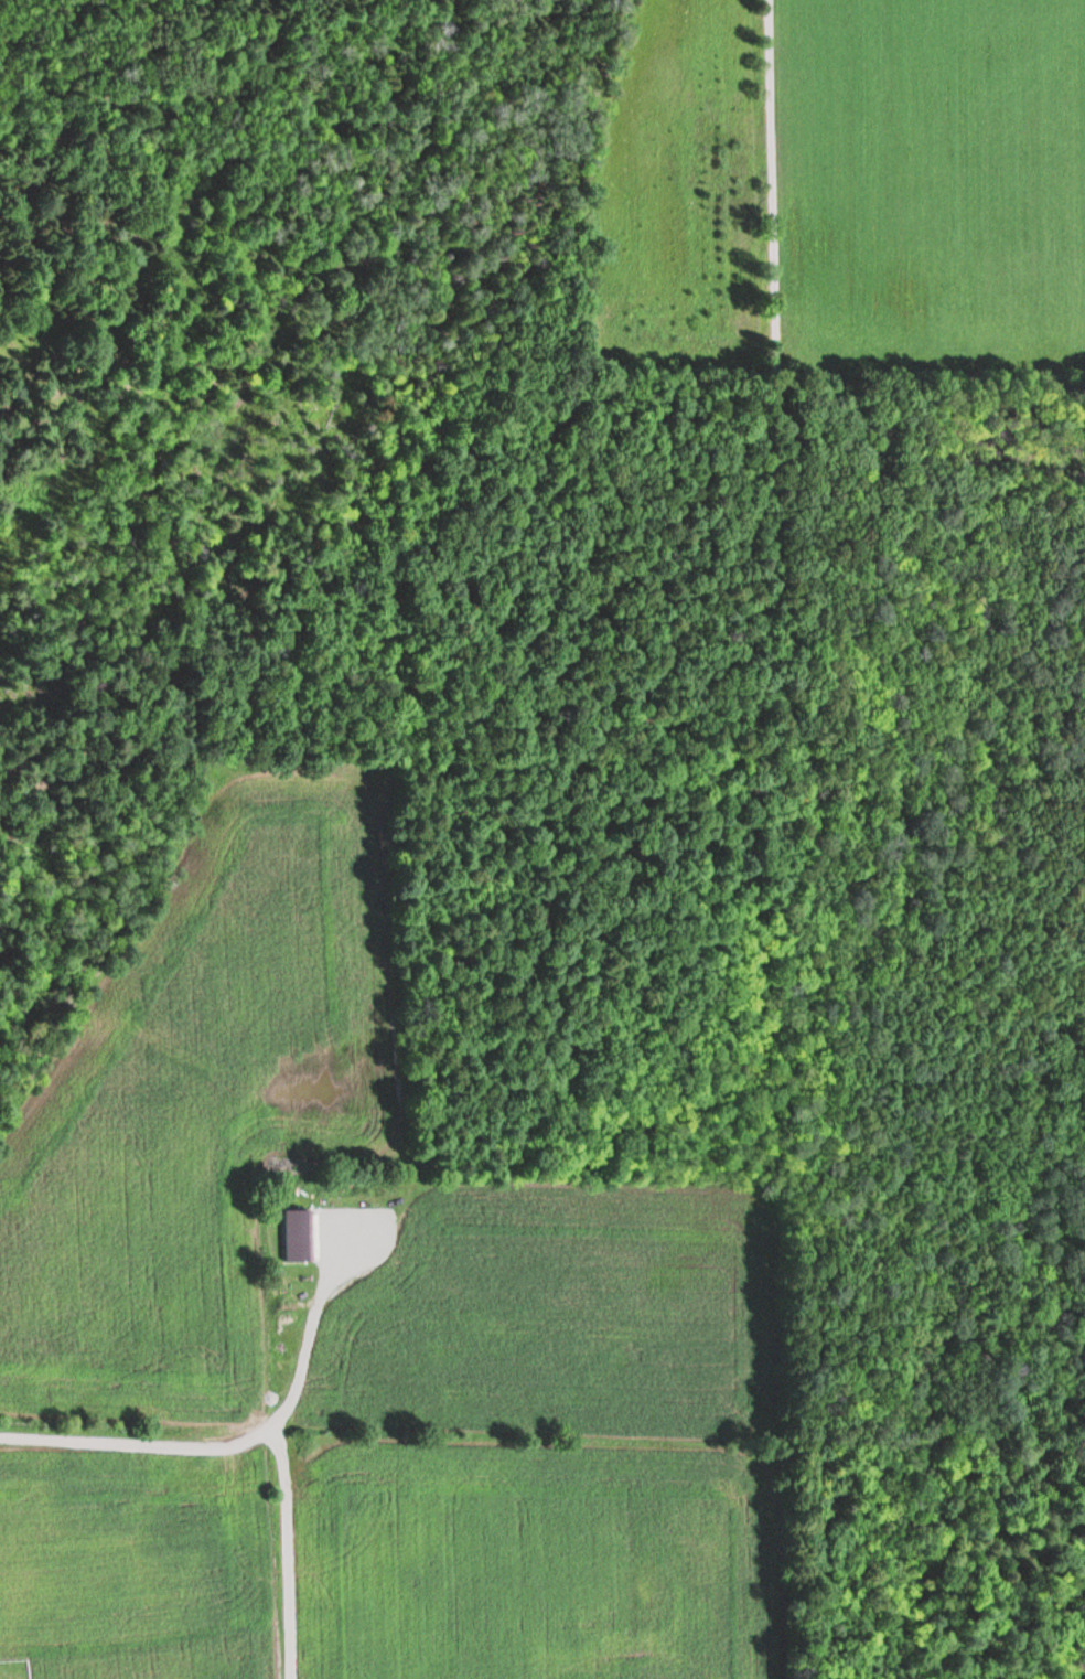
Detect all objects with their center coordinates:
building: (296, 1237)

